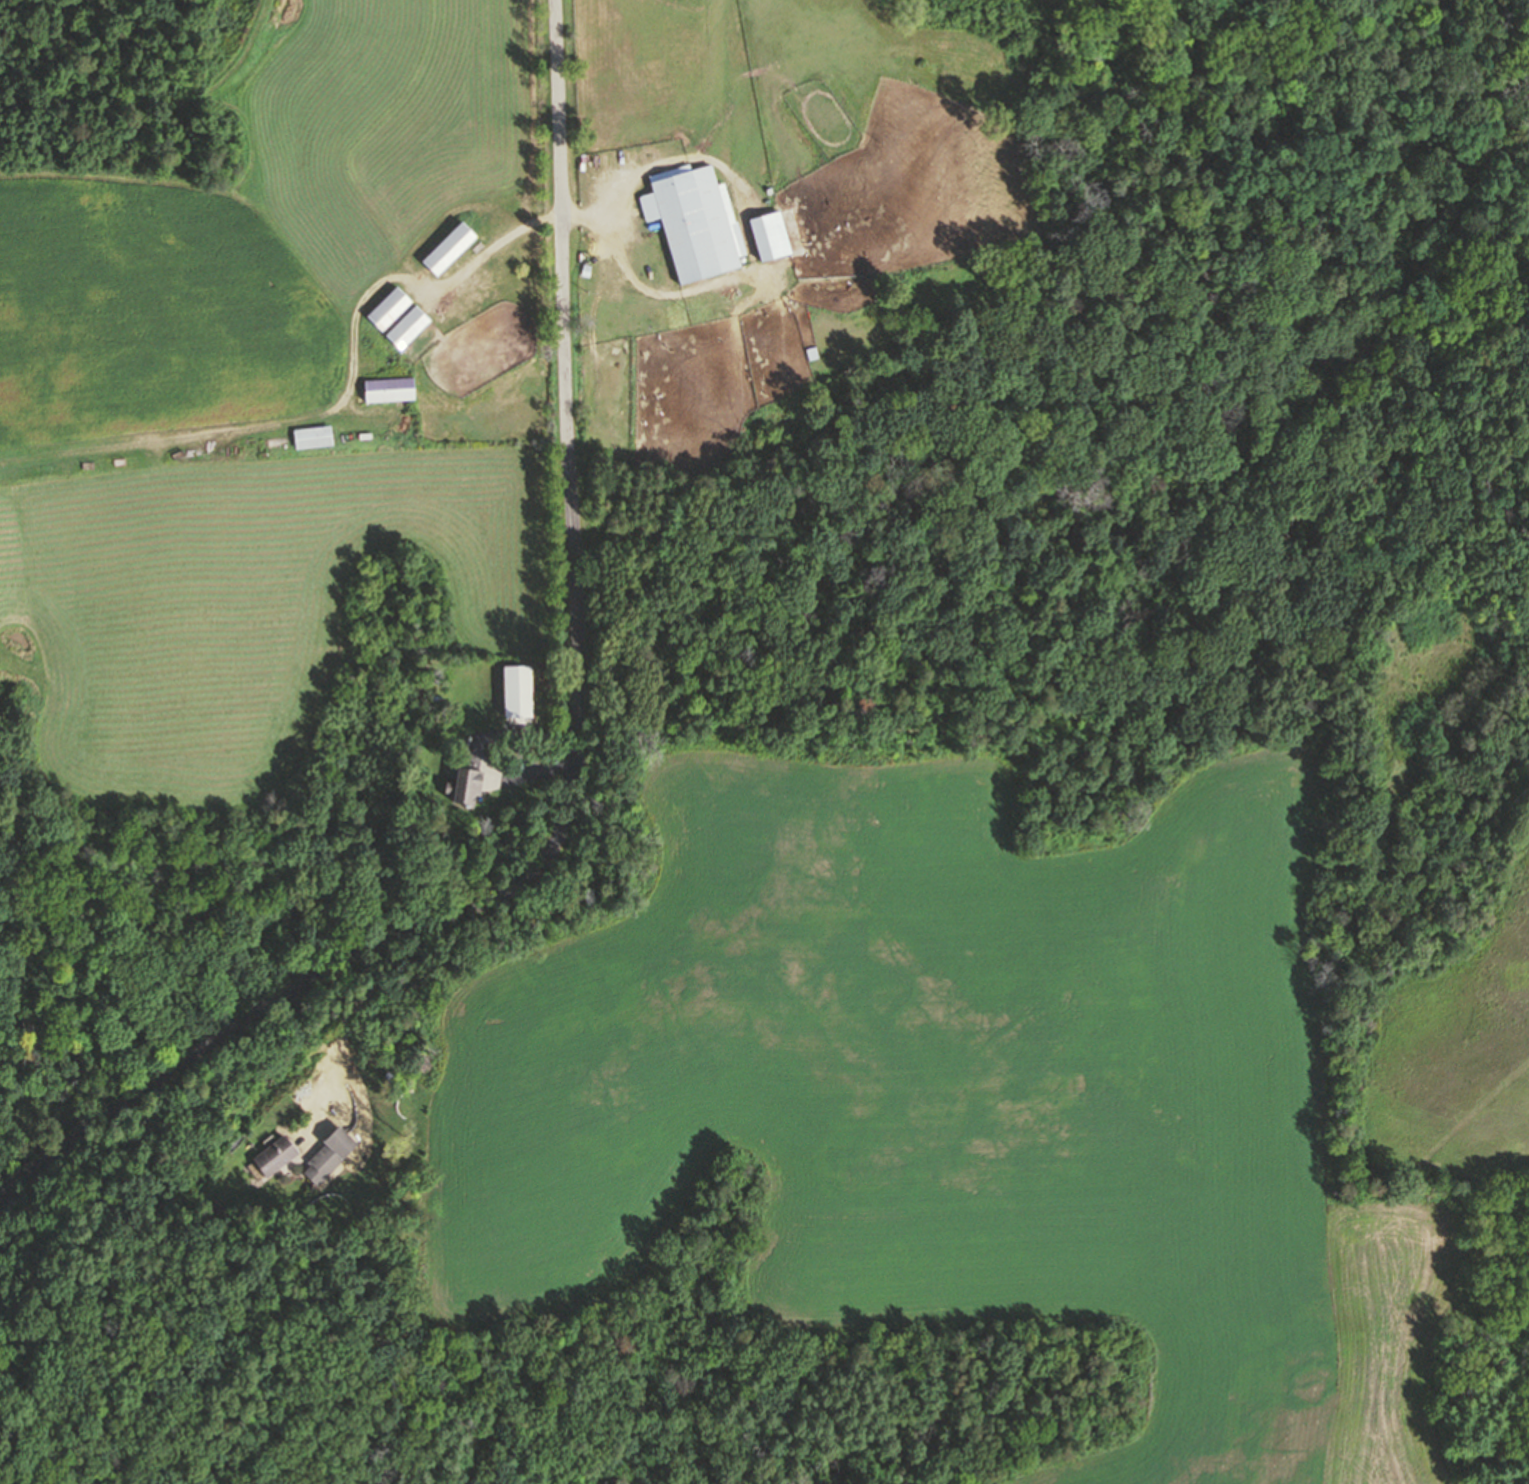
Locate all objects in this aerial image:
building: (699, 223)
building: (776, 235)
building: (450, 247)
road: (413, 280)
building: (390, 307)
building: (408, 326)
building: (390, 389)
building: (366, 434)
building: (319, 436)
building: (523, 693)
road: (576, 756)
building: (465, 784)
road: (354, 1022)
building: (341, 1141)
building: (275, 1155)
building: (333, 1155)

